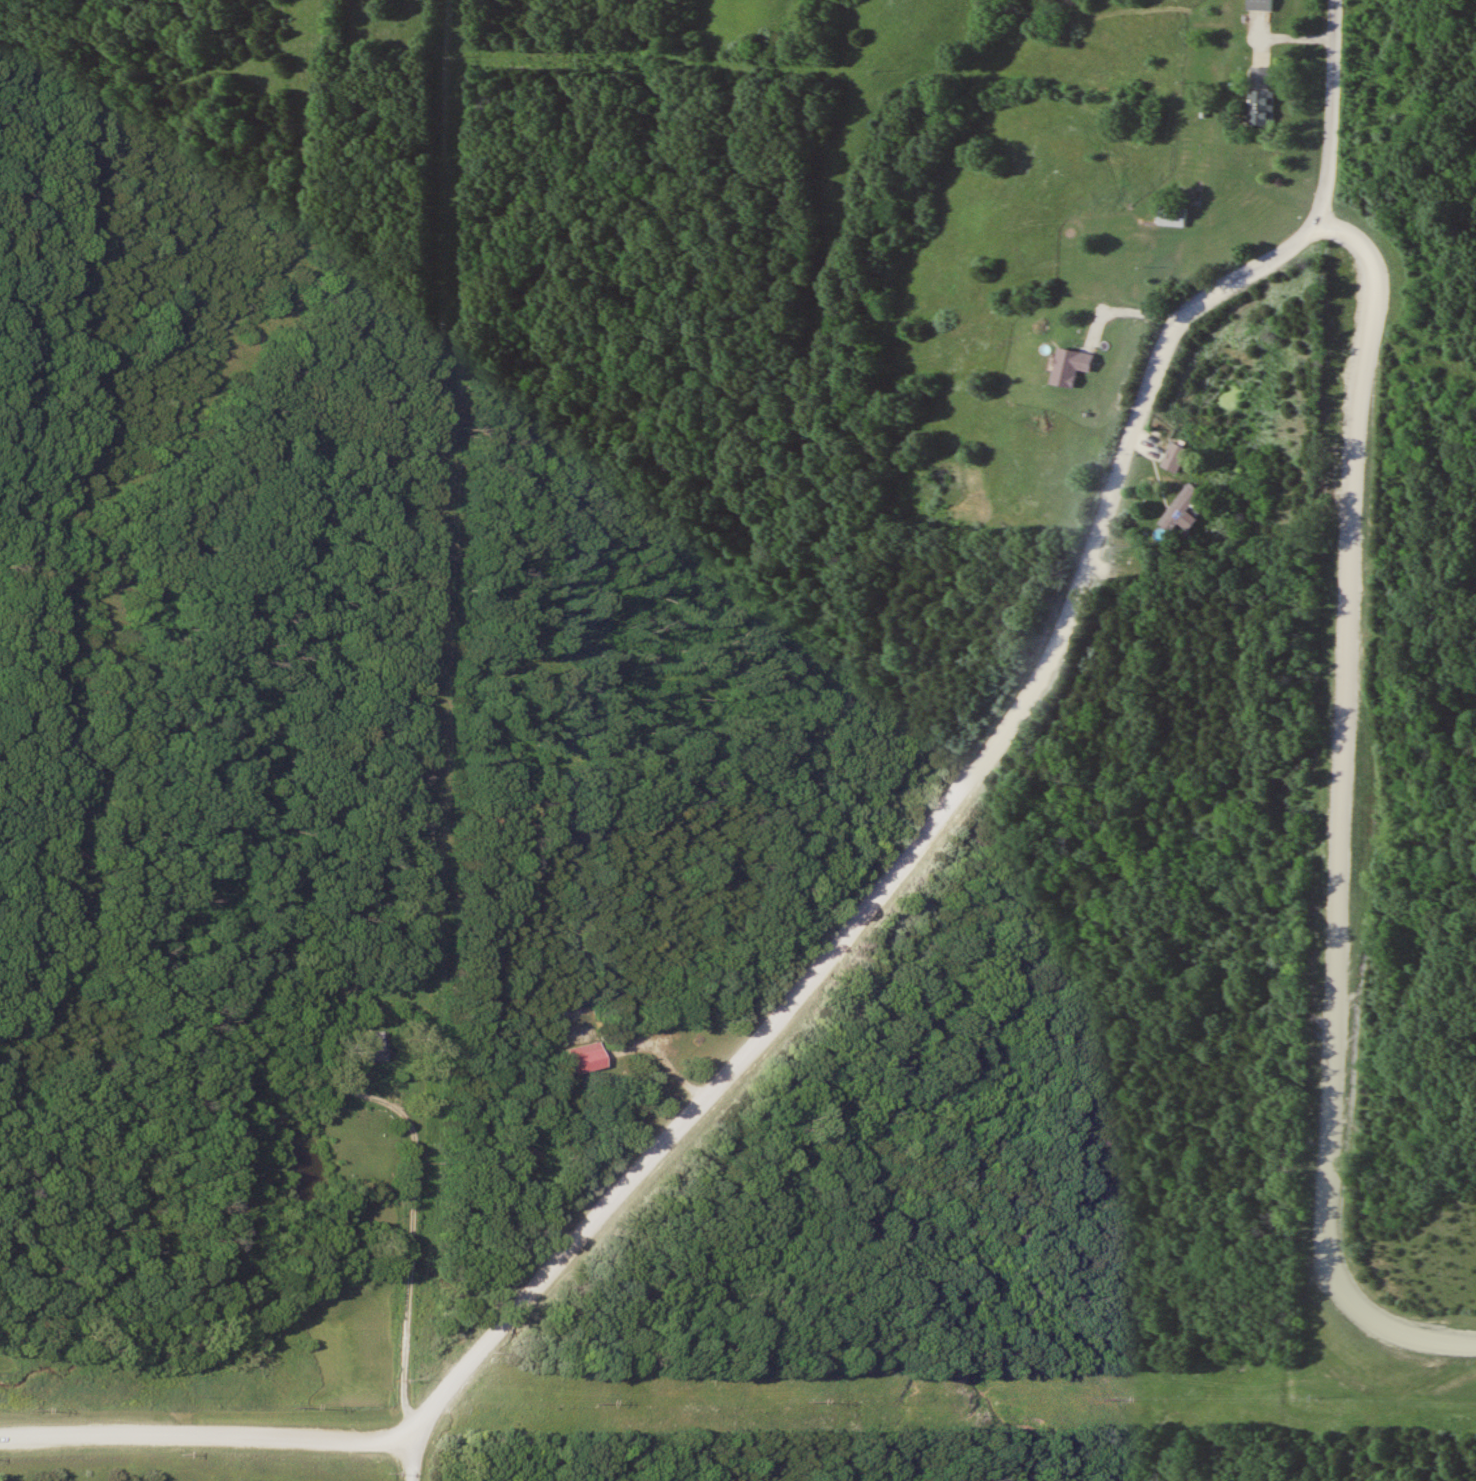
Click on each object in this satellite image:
building: (1259, 4)
building: (1260, 100)
building: (1171, 215)
road: (1222, 288)
building: (1174, 457)
building: (1179, 507)
road: (1346, 813)
road: (777, 1022)
building: (371, 1046)
building: (585, 1061)
road: (414, 1266)
road: (214, 1438)
road: (412, 1451)

